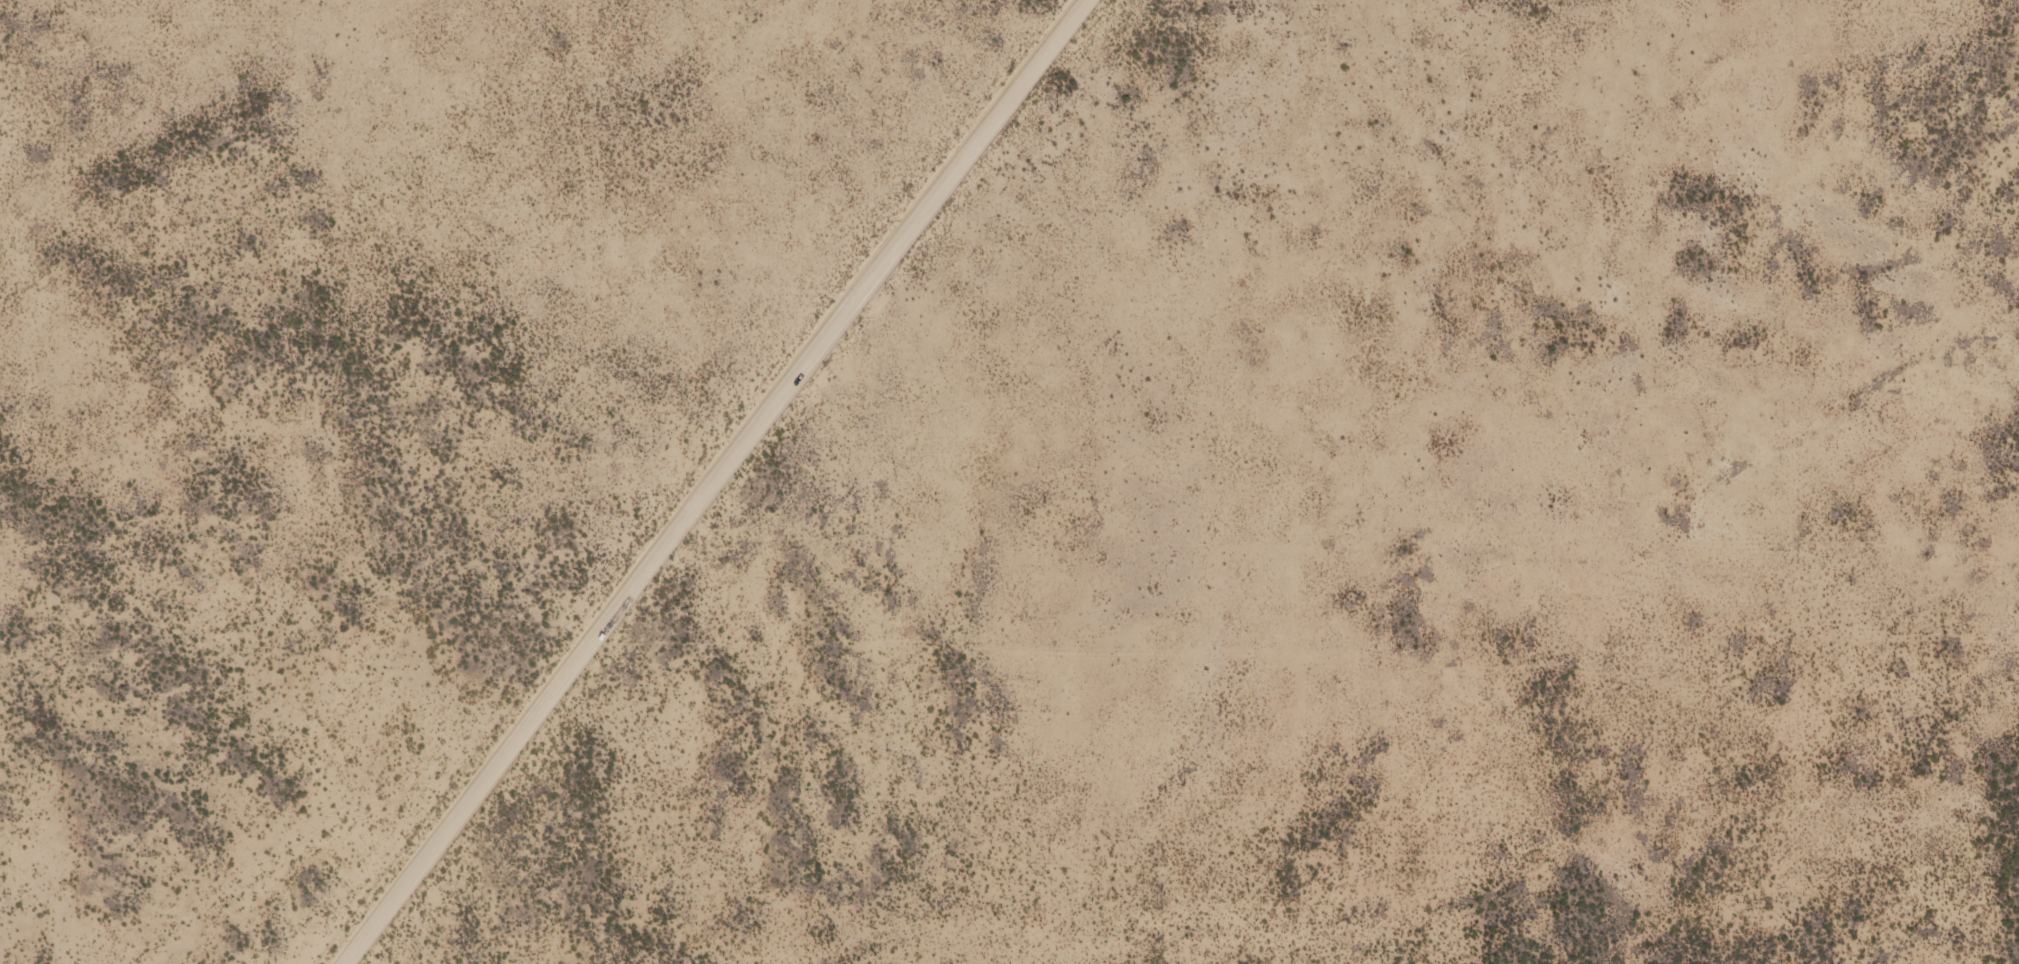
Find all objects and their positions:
road: (698, 482)

